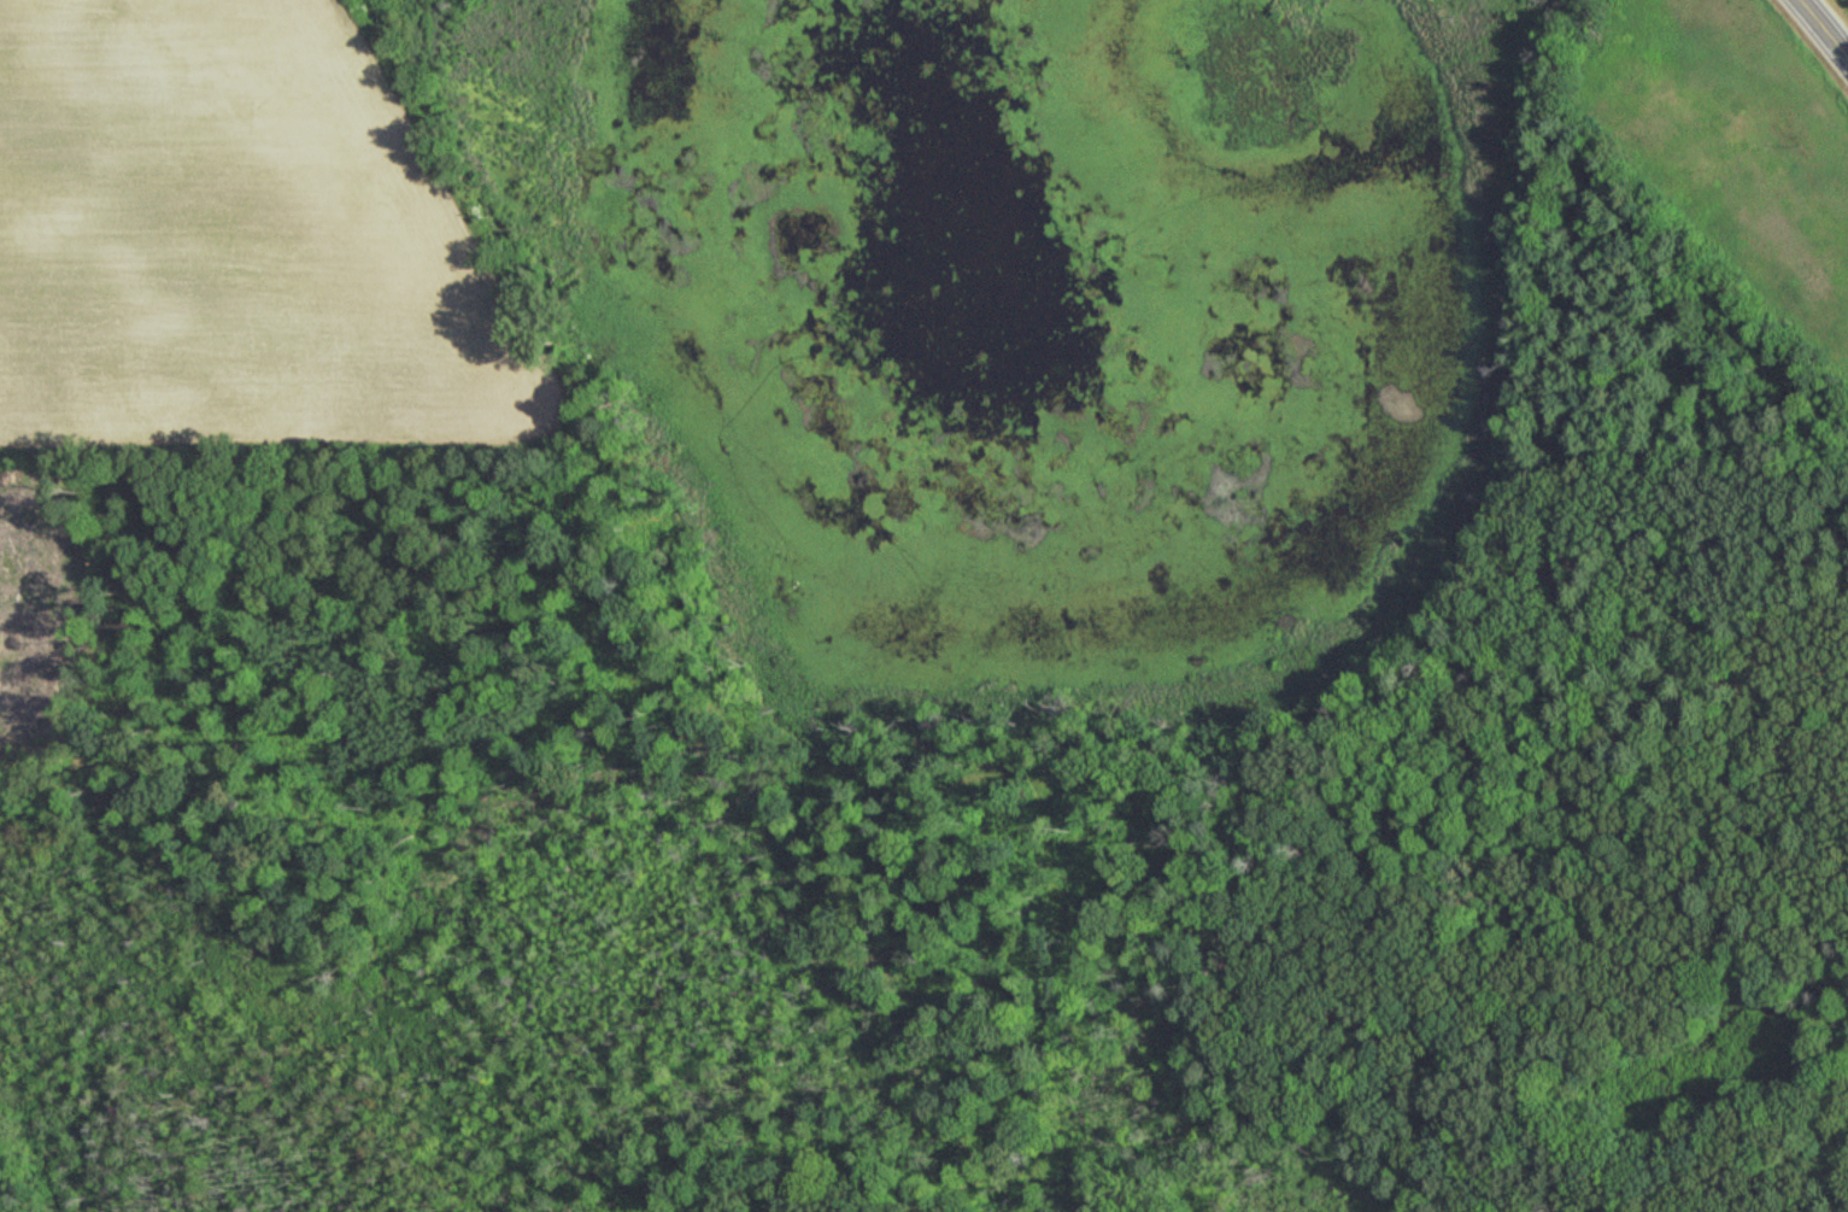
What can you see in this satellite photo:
road: (1828, 25)
road: (1611, 944)

